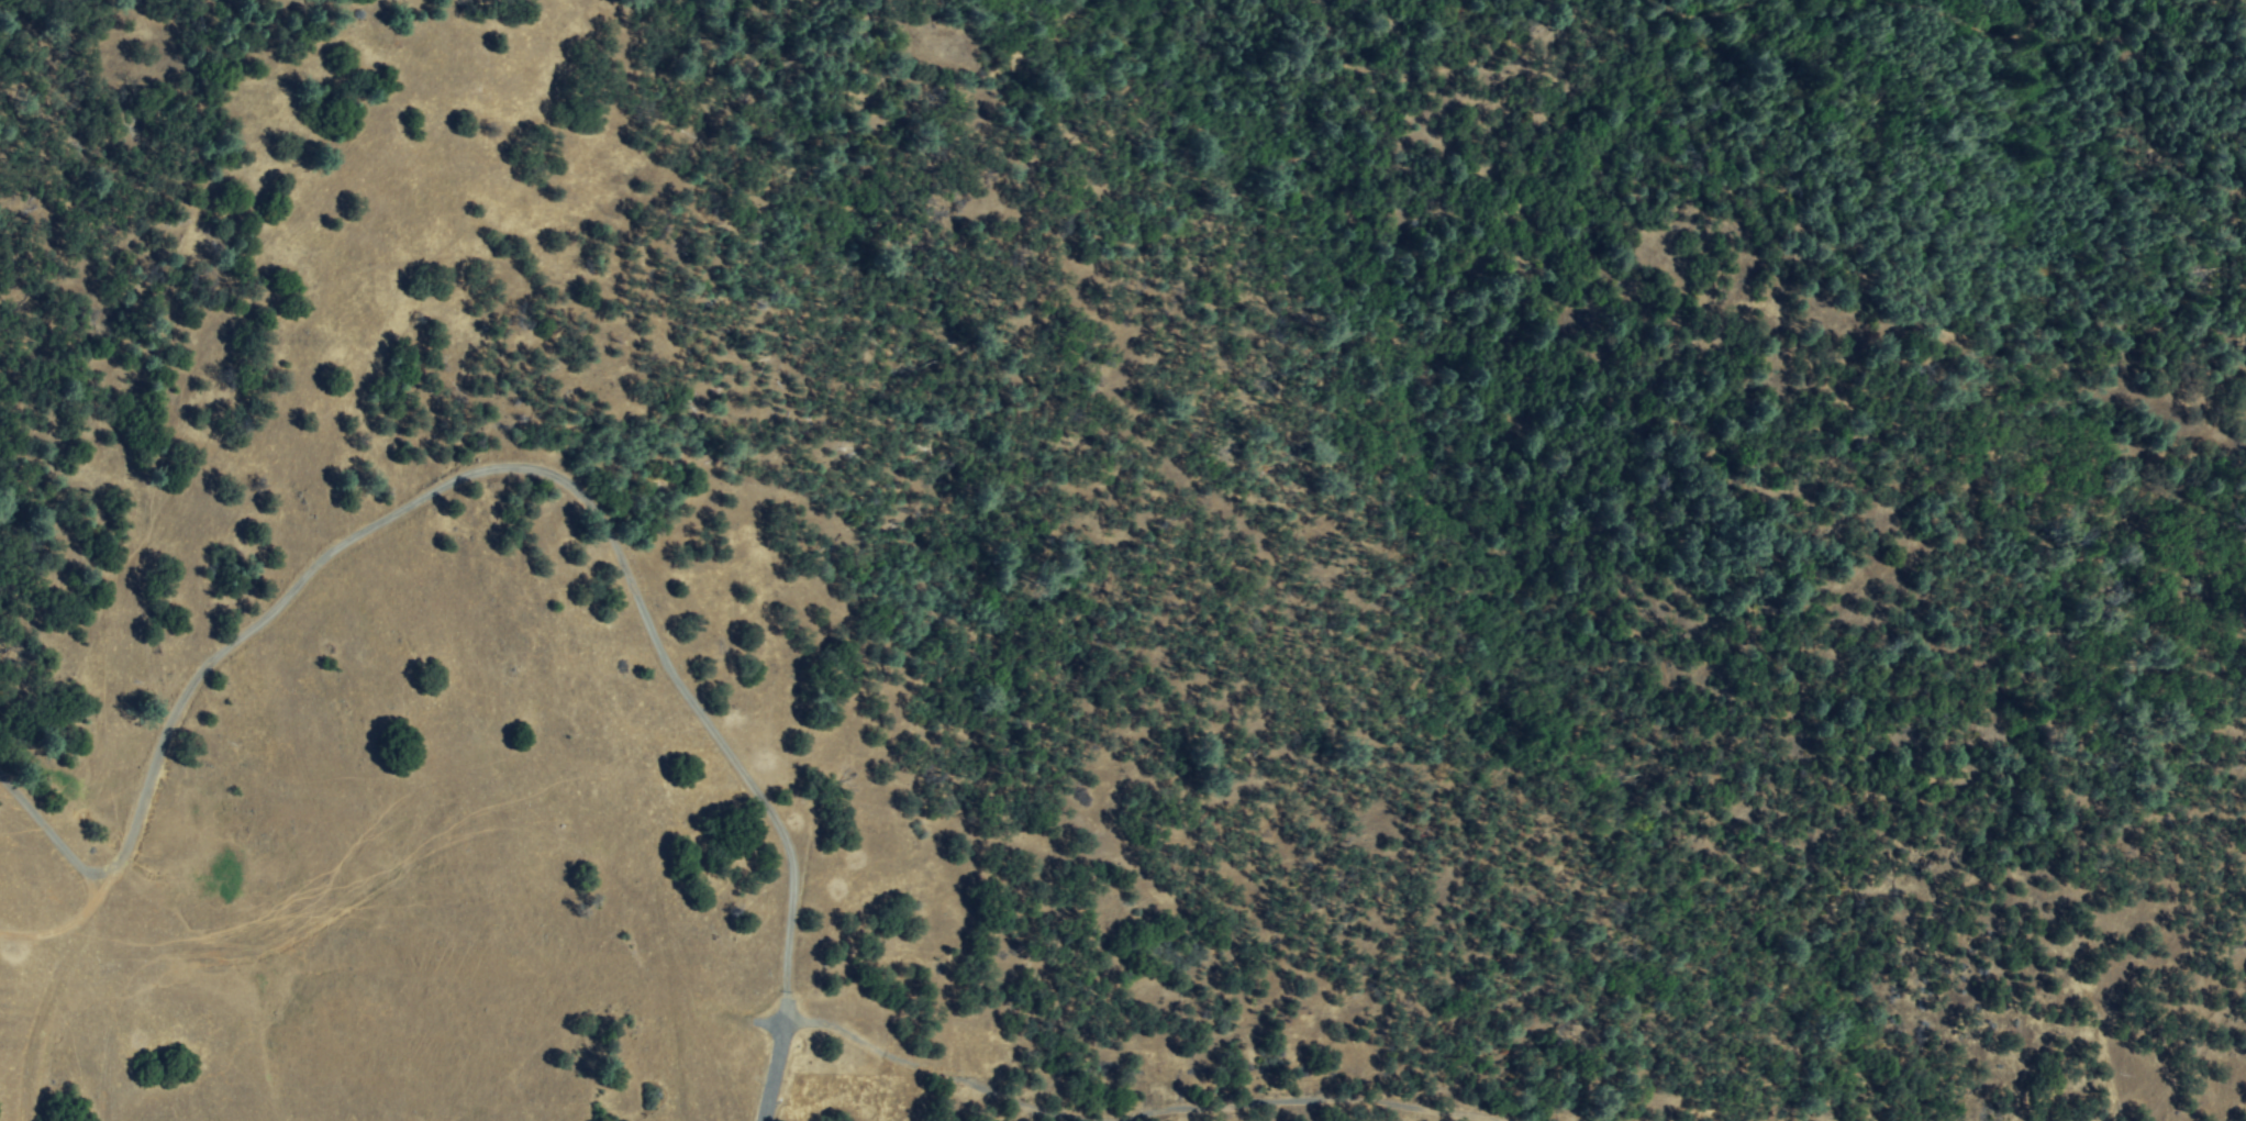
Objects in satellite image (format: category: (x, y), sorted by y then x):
road: (586, 500)
road: (52, 842)
road: (49, 986)

